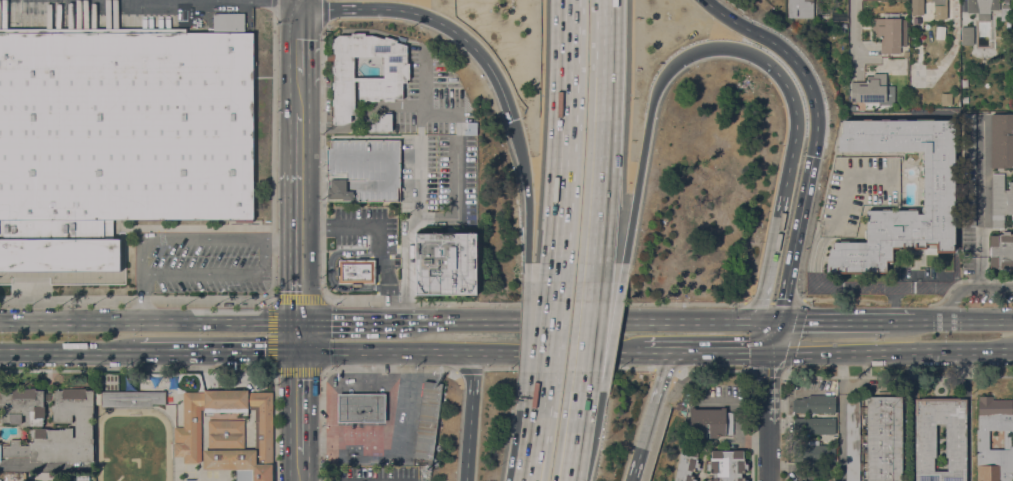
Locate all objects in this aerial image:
building: (980, 7)
building: (800, 9)
building: (917, 10)
road: (323, 12)
building: (1005, 14)
building: (822, 16)
road: (434, 20)
building: (843, 27)
building: (890, 32)
road: (854, 34)
building: (967, 35)
road: (300, 37)
road: (607, 39)
building: (906, 53)
building: (371, 78)
road: (300, 80)
building: (873, 90)
road: (300, 99)
road: (384, 105)
road: (650, 107)
building: (852, 108)
building: (379, 123)
road: (565, 130)
road: (814, 135)
building: (119, 136)
road: (793, 139)
building: (969, 141)
building: (1002, 141)
road: (300, 142)
building: (363, 155)
parking lot: (363, 155)
traffic signals: (811, 156)
road: (602, 170)
road: (457, 183)
building: (363, 186)
parking lot: (363, 186)
road: (526, 188)
building: (858, 191)
building: (938, 194)
road: (300, 199)
building: (1001, 200)
road: (978, 201)
building: (969, 205)
road: (415, 214)
road: (300, 232)
road: (378, 239)
building: (1001, 251)
road: (140, 255)
building: (445, 264)
road: (768, 270)
building: (356, 271)
road: (300, 281)
road: (965, 281)
road: (866, 287)
road: (930, 287)
road: (971, 287)
road: (140, 297)
road: (135, 301)
road: (538, 302)
road: (963, 319)
road: (834, 321)
road: (903, 321)
road: (570, 322)
road: (692, 322)
traffic signals: (760, 322)
road: (768, 322)
traffic signals: (776, 322)
road: (149, 323)
traffic signals: (300, 323)
road: (345, 323)
road: (405, 323)
road: (468, 323)
road: (796, 323)
road: (527, 326)
road: (549, 326)
road: (588, 328)
road: (611, 330)
road: (272, 331)
road: (300, 336)
road: (764, 336)
road: (772, 336)
road: (69, 349)
road: (219, 349)
traffic signals: (300, 349)
road: (406, 349)
road: (890, 349)
road: (655, 350)
road: (716, 350)
road: (567, 351)
road: (633, 351)
traffic signals: (768, 351)
road: (348, 365)
road: (568, 367)
road: (137, 369)
road: (716, 369)
road: (388, 370)
road: (897, 376)
road: (348, 381)
road: (299, 389)
building: (133, 397)
building: (98, 398)
building: (815, 404)
building: (360, 408)
gas station: (360, 408)
road: (967, 414)
road: (470, 415)
road: (649, 415)
road: (767, 415)
road: (911, 415)
building: (427, 419)
building: (710, 422)
road: (331, 423)
road: (387, 423)
building: (84, 425)
road: (537, 425)
building: (815, 425)
building: (226, 434)
road: (573, 437)
building: (187, 438)
building: (884, 438)
building: (853, 439)
building: (925, 440)
building: (982, 440)
track: (132, 447)
park: (133, 448)
building: (814, 453)
road: (298, 456)
building: (687, 461)
building: (727, 465)
road: (41, 468)
road: (530, 470)
building: (45, 474)
building: (77, 480)

